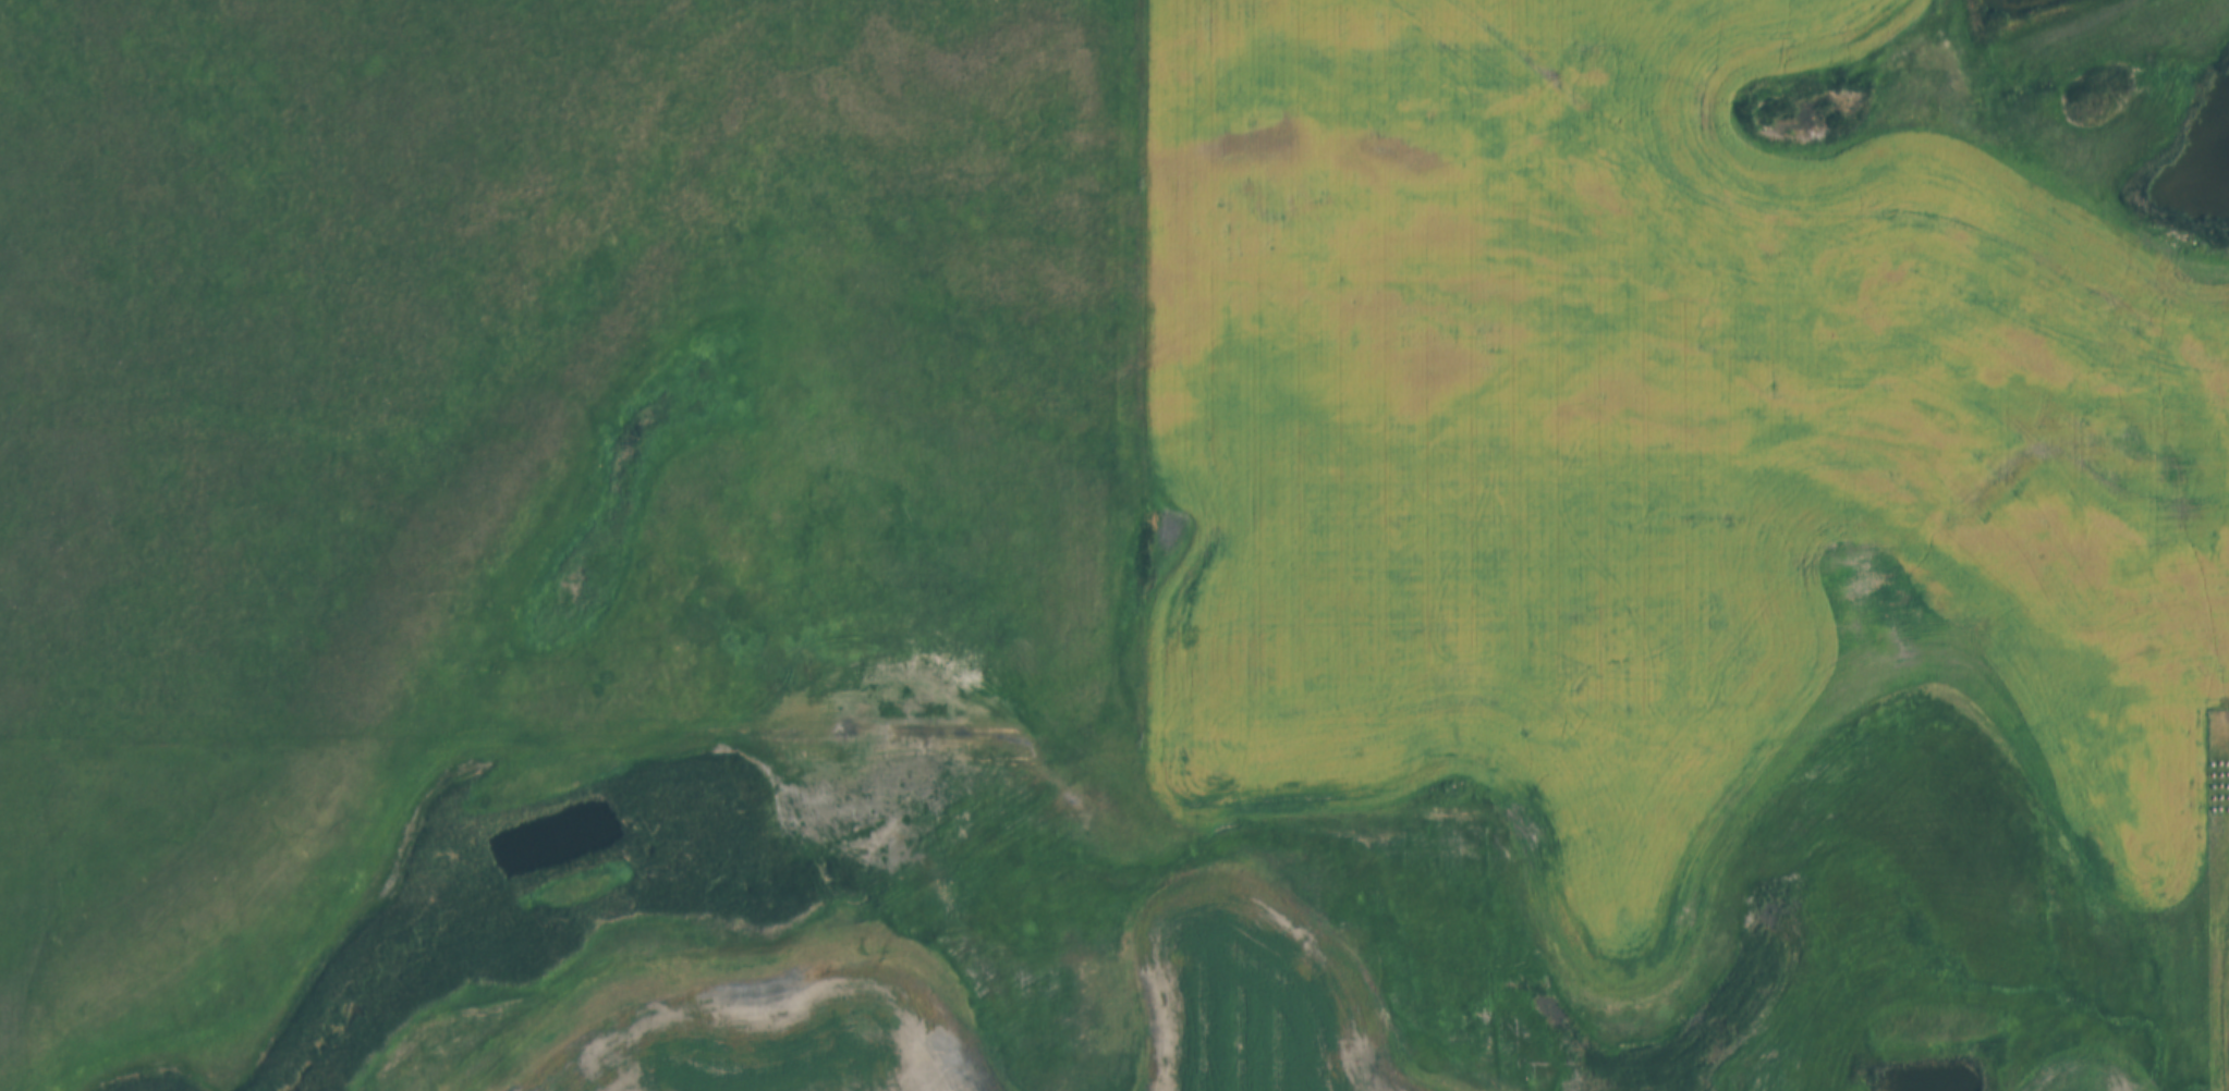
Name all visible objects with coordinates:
building: (2193, 808)

